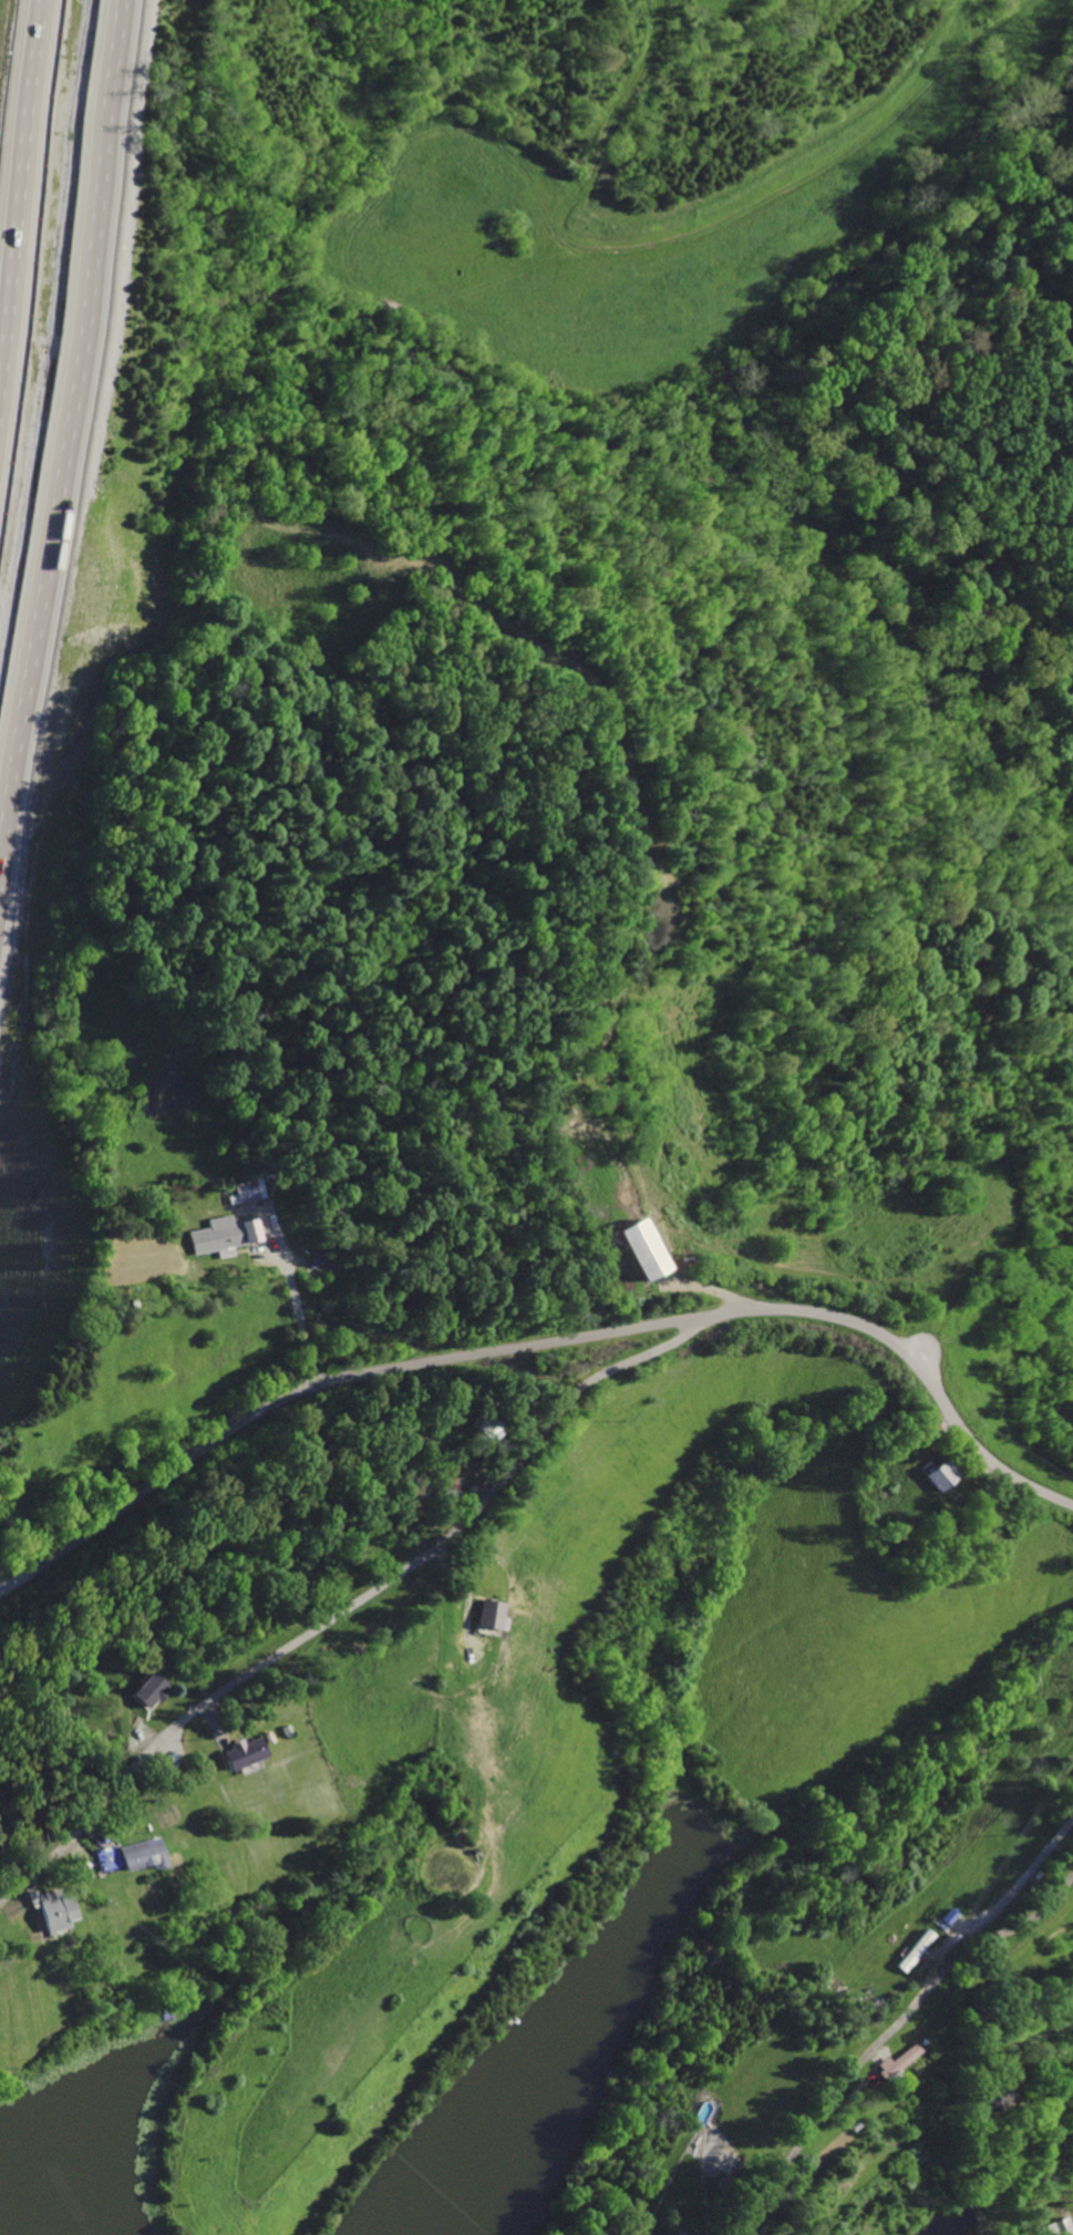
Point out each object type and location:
road: (17, 145)
road: (70, 508)
building: (218, 1235)
building: (625, 1250)
road: (298, 1315)
road: (540, 1343)
building: (933, 1475)
road: (358, 1603)
building: (481, 1615)
building: (147, 1691)
building: (237, 1753)
building: (137, 1855)
road: (1017, 1878)
building: (52, 1912)
building: (912, 1951)
road: (886, 2030)
road: (1009, 2043)
building: (891, 2061)

